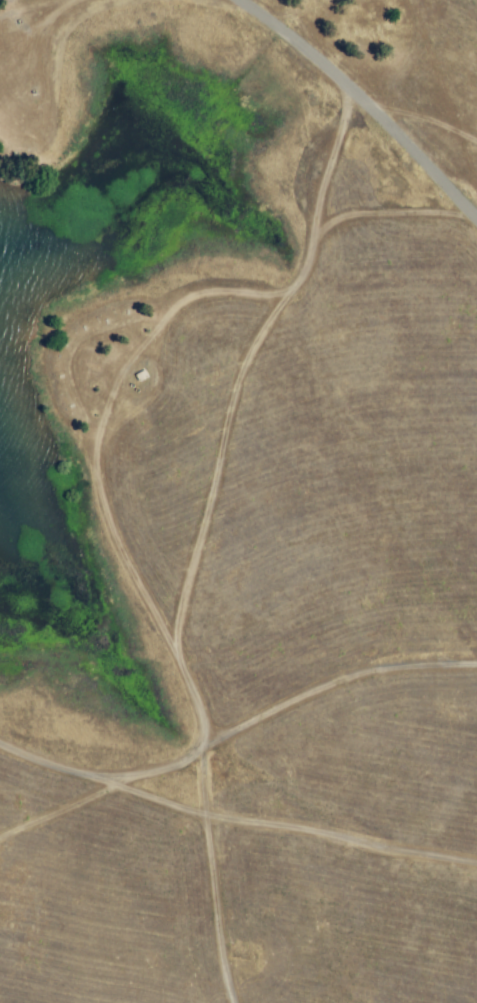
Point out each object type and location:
road: (361, 106)

